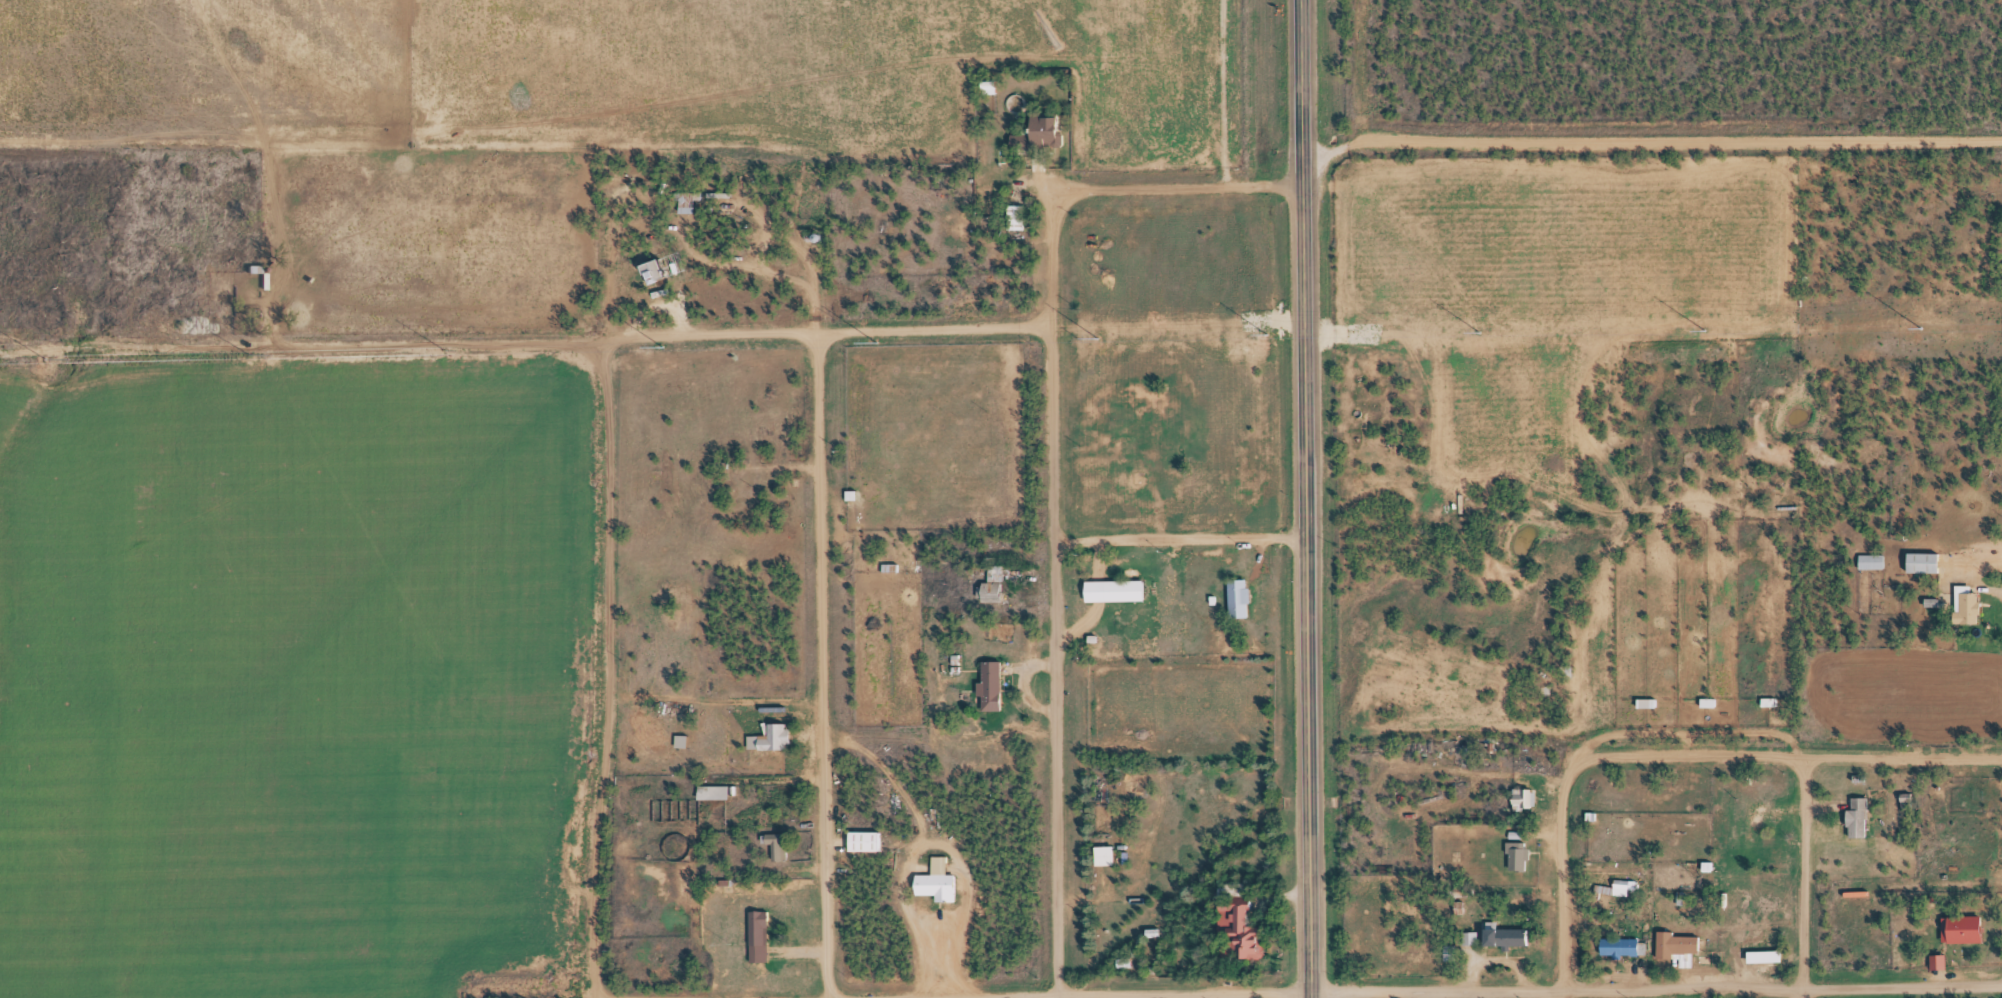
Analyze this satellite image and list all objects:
road: (1304, 74)
building: (994, 83)
road: (1226, 90)
building: (1046, 128)
road: (1651, 140)
road: (1183, 182)
building: (691, 206)
building: (1020, 215)
building: (1010, 220)
building: (662, 263)
building: (649, 271)
road: (823, 333)
road: (499, 343)
building: (760, 491)
building: (750, 495)
road: (1179, 541)
building: (1874, 560)
building: (1927, 560)
road: (1308, 572)
building: (998, 581)
building: (988, 585)
building: (1118, 588)
road: (1052, 592)
building: (1241, 594)
building: (1970, 602)
road: (822, 666)
road: (600, 669)
building: (995, 683)
building: (1772, 699)
building: (1650, 700)
building: (1711, 700)
building: (1642, 703)
building: (779, 733)
building: (684, 738)
road: (1773, 757)
building: (718, 789)
building: (1526, 795)
building: (1517, 799)
building: (1764, 810)
building: (1861, 813)
building: (1748, 818)
building: (870, 837)
building: (783, 842)
building: (1965, 845)
building: (771, 846)
building: (1109, 852)
building: (1521, 852)
building: (1100, 856)
road: (1800, 878)
building: (1619, 881)
building: (942, 885)
road: (1561, 893)
building: (1247, 926)
building: (1971, 926)
building: (762, 933)
building: (1509, 934)
building: (1624, 944)
building: (1682, 944)
building: (1769, 956)
road: (1655, 990)
road: (1183, 993)
road: (986, 995)

